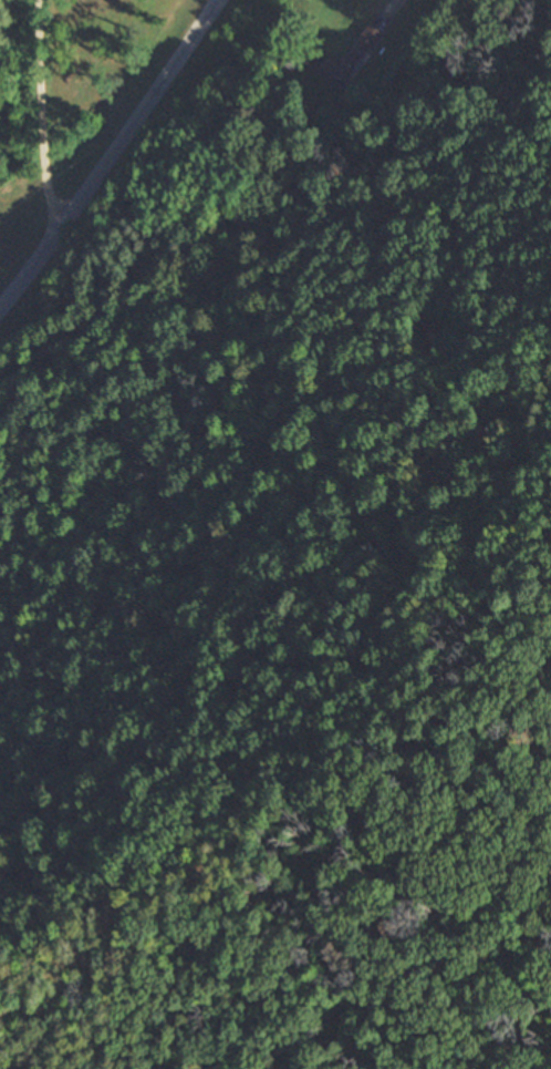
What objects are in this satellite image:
building: (347, 59)
road: (40, 115)
road: (112, 154)

